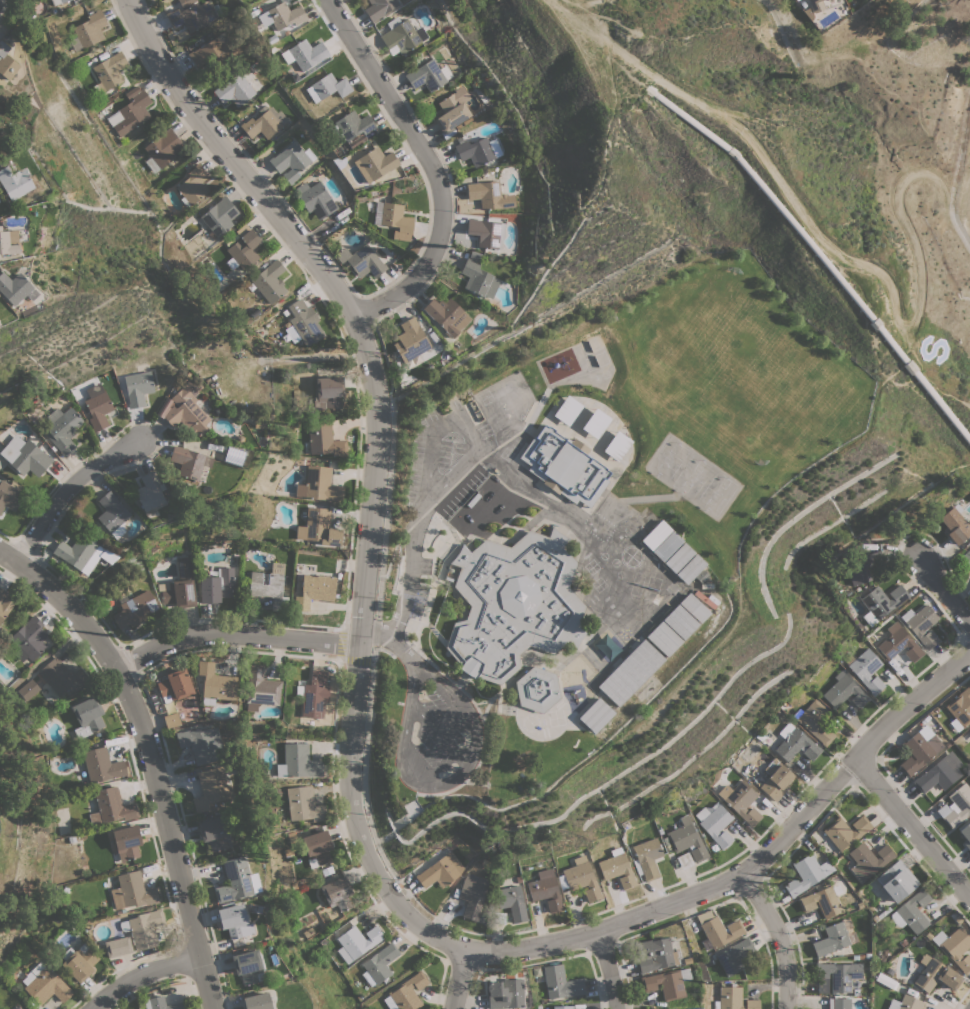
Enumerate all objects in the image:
building: (826, 0)
road: (1, 1)
building: (57, 2)
building: (186, 3)
building: (813, 4)
building: (379, 8)
building: (808, 13)
building: (285, 15)
building: (192, 16)
building: (88, 30)
building: (402, 34)
building: (214, 51)
building: (305, 54)
building: (6, 61)
building: (110, 71)
building: (428, 75)
building: (327, 87)
building: (234, 90)
building: (130, 111)
building: (452, 112)
building: (264, 123)
building: (351, 126)
building: (162, 150)
building: (479, 150)
building: (292, 160)
building: (375, 163)
road: (430, 165)
building: (15, 182)
building: (193, 185)
building: (489, 195)
building: (315, 199)
building: (220, 216)
building: (397, 220)
building: (486, 232)
building: (8, 242)
building: (243, 248)
road: (838, 258)
building: (361, 259)
building: (478, 277)
building: (268, 282)
building: (16, 288)
road: (412, 298)
building: (447, 315)
building: (302, 323)
building: (410, 339)
road: (369, 345)
building: (138, 388)
building: (327, 392)
building: (189, 408)
building: (98, 410)
building: (568, 410)
road: (461, 420)
building: (260, 423)
building: (596, 423)
building: (63, 427)
building: (324, 439)
building: (618, 445)
building: (26, 457)
building: (189, 462)
building: (565, 466)
road: (427, 470)
building: (484, 478)
building: (319, 485)
building: (473, 490)
building: (149, 491)
road: (76, 493)
building: (10, 494)
building: (462, 502)
building: (111, 511)
building: (451, 514)
building: (955, 524)
building: (318, 527)
road: (415, 532)
building: (656, 534)
building: (667, 545)
building: (83, 553)
building: (679, 557)
building: (966, 558)
building: (859, 569)
building: (692, 570)
building: (217, 586)
building: (269, 586)
building: (179, 587)
building: (314, 591)
building: (2, 593)
road: (948, 596)
building: (883, 600)
building: (514, 603)
building: (5, 607)
building: (693, 607)
building: (134, 608)
building: (679, 622)
building: (921, 625)
road: (238, 633)
road: (392, 636)
building: (663, 638)
building: (29, 639)
building: (899, 643)
building: (867, 670)
building: (629, 672)
building: (62, 676)
building: (215, 684)
building: (175, 685)
building: (260, 688)
building: (536, 689)
building: (27, 690)
building: (844, 691)
building: (313, 694)
building: (960, 709)
building: (596, 715)
building: (87, 716)
building: (171, 720)
building: (815, 721)
building: (969, 727)
road: (438, 733)
building: (969, 734)
building: (795, 743)
building: (201, 744)
building: (920, 749)
road: (153, 751)
building: (299, 762)
building: (102, 765)
building: (939, 773)
building: (774, 779)
road: (447, 781)
building: (212, 790)
building: (740, 801)
building: (304, 804)
building: (956, 806)
building: (111, 807)
building: (716, 824)
road: (914, 827)
building: (214, 833)
building: (843, 834)
building: (966, 835)
building: (687, 839)
building: (127, 842)
building: (317, 848)
building: (647, 858)
building: (685, 860)
building: (868, 860)
building: (441, 870)
building: (618, 870)
road: (755, 870)
building: (807, 874)
road: (380, 876)
building: (234, 879)
building: (580, 879)
building: (897, 881)
building: (546, 890)
building: (132, 891)
building: (337, 893)
building: (472, 898)
building: (821, 901)
building: (512, 902)
building: (912, 911)
building: (498, 917)
building: (234, 921)
building: (144, 928)
building: (719, 929)
building: (831, 939)
building: (358, 940)
road: (781, 940)
building: (118, 947)
building: (955, 947)
building: (654, 954)
building: (735, 954)
building: (79, 962)
building: (379, 964)
building: (248, 967)
road: (606, 970)
building: (935, 975)
building: (836, 976)
road: (148, 979)
road: (462, 979)
building: (886, 981)
building: (560, 982)
building: (667, 983)
building: (46, 984)
building: (406, 992)
building: (506, 994)
building: (734, 999)
building: (257, 1001)
building: (166, 1002)
building: (844, 1002)
building: (905, 1003)
building: (563, 1007)

